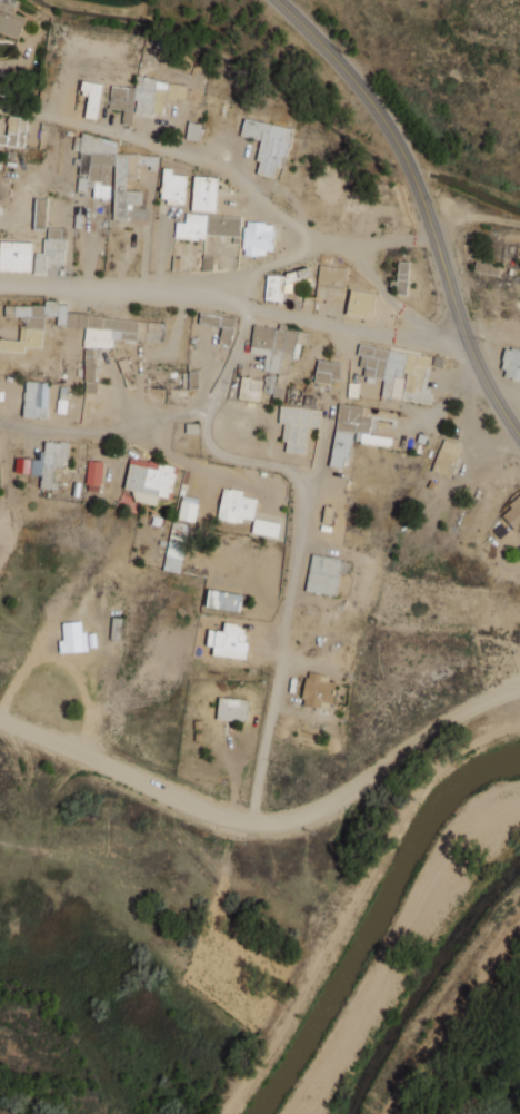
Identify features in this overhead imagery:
building: (10, 18)
building: (90, 87)
building: (137, 98)
building: (192, 130)
building: (14, 131)
building: (267, 144)
building: (109, 170)
building: (172, 187)
road: (250, 188)
building: (3, 189)
building: (203, 194)
road: (423, 203)
building: (30, 217)
building: (207, 226)
building: (56, 231)
building: (257, 237)
building: (14, 256)
road: (250, 267)
building: (486, 268)
building: (401, 277)
building: (280, 284)
building: (330, 284)
road: (233, 303)
building: (359, 303)
building: (40, 324)
building: (109, 331)
building: (226, 334)
building: (271, 345)
road: (232, 358)
building: (511, 364)
building: (89, 371)
building: (327, 372)
building: (397, 372)
building: (272, 385)
building: (249, 388)
building: (34, 398)
road: (509, 402)
building: (297, 426)
building: (352, 433)
building: (446, 457)
building: (44, 462)
building: (93, 475)
building: (148, 480)
road: (294, 481)
building: (234, 505)
building: (187, 507)
building: (512, 514)
building: (264, 528)
building: (174, 546)
building: (324, 573)
building: (223, 600)
building: (72, 638)
building: (317, 691)
building: (231, 709)
road: (267, 819)

